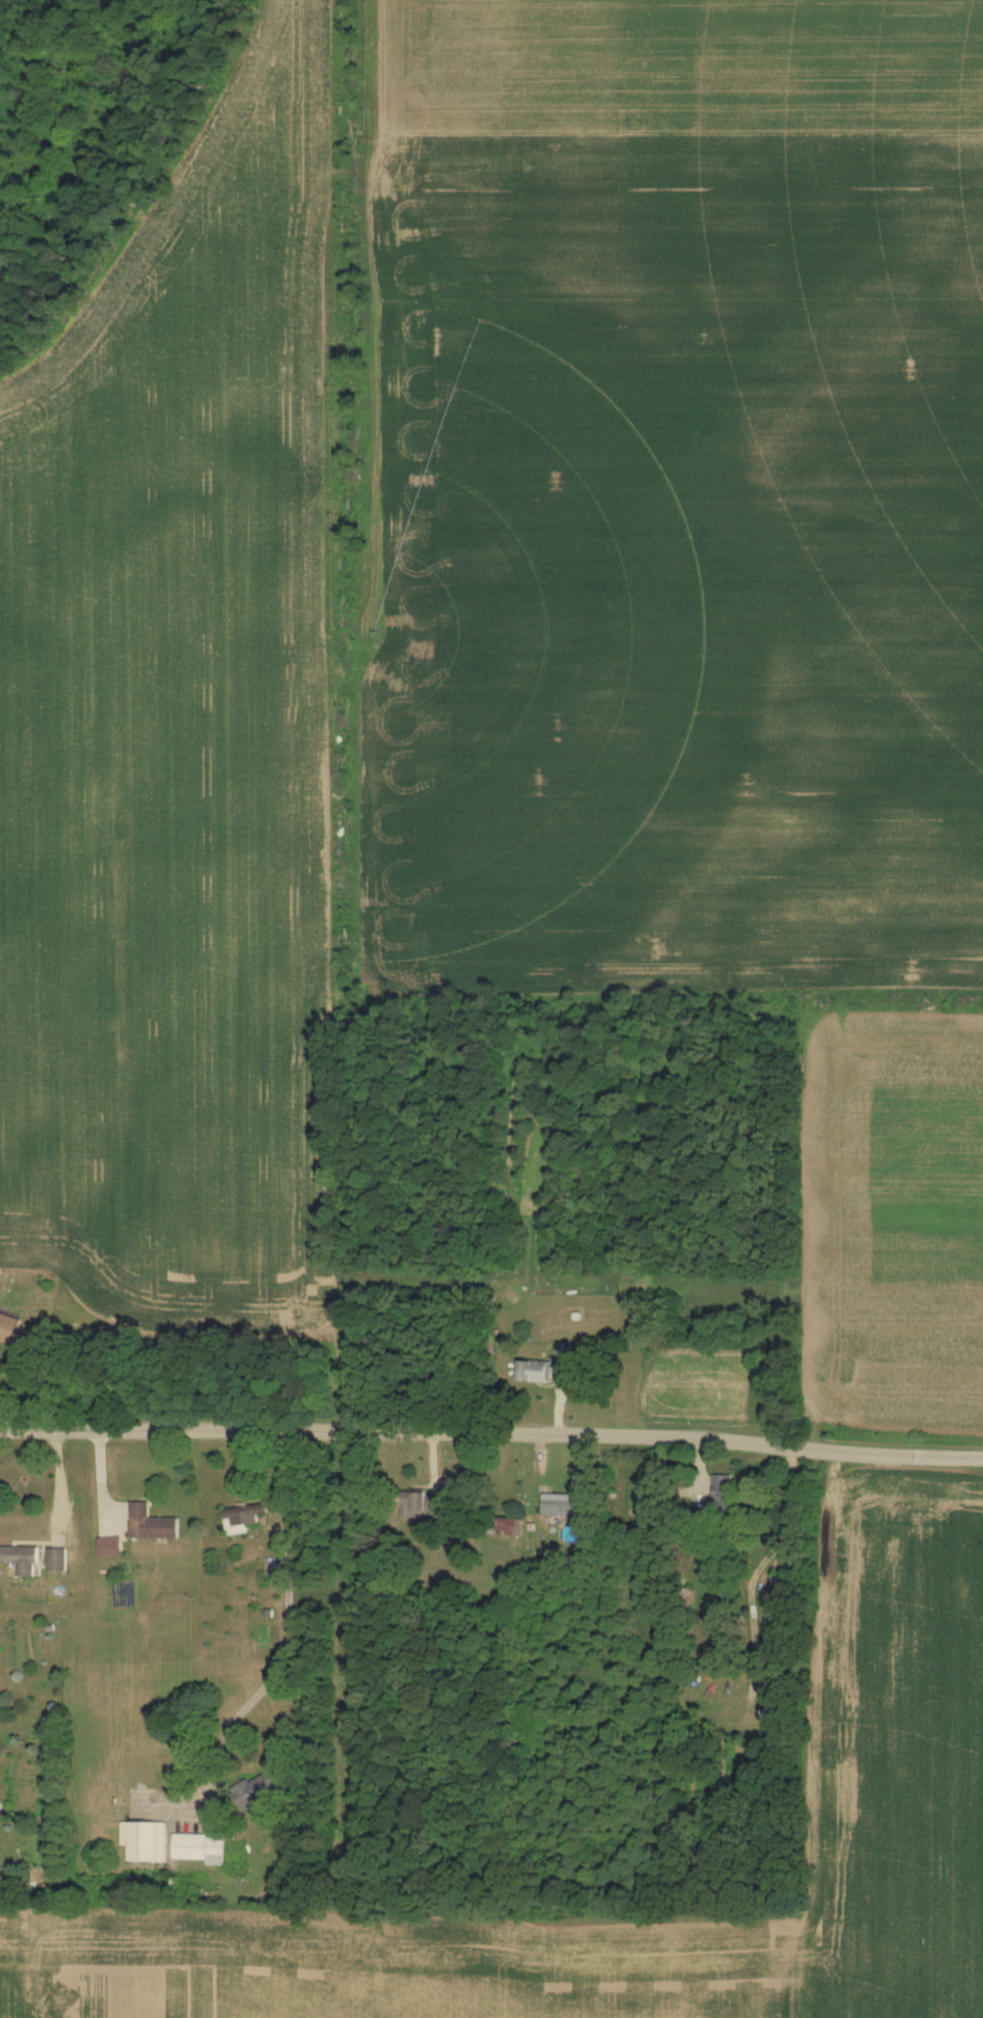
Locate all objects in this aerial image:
road: (491, 1441)
road: (285, 1630)

